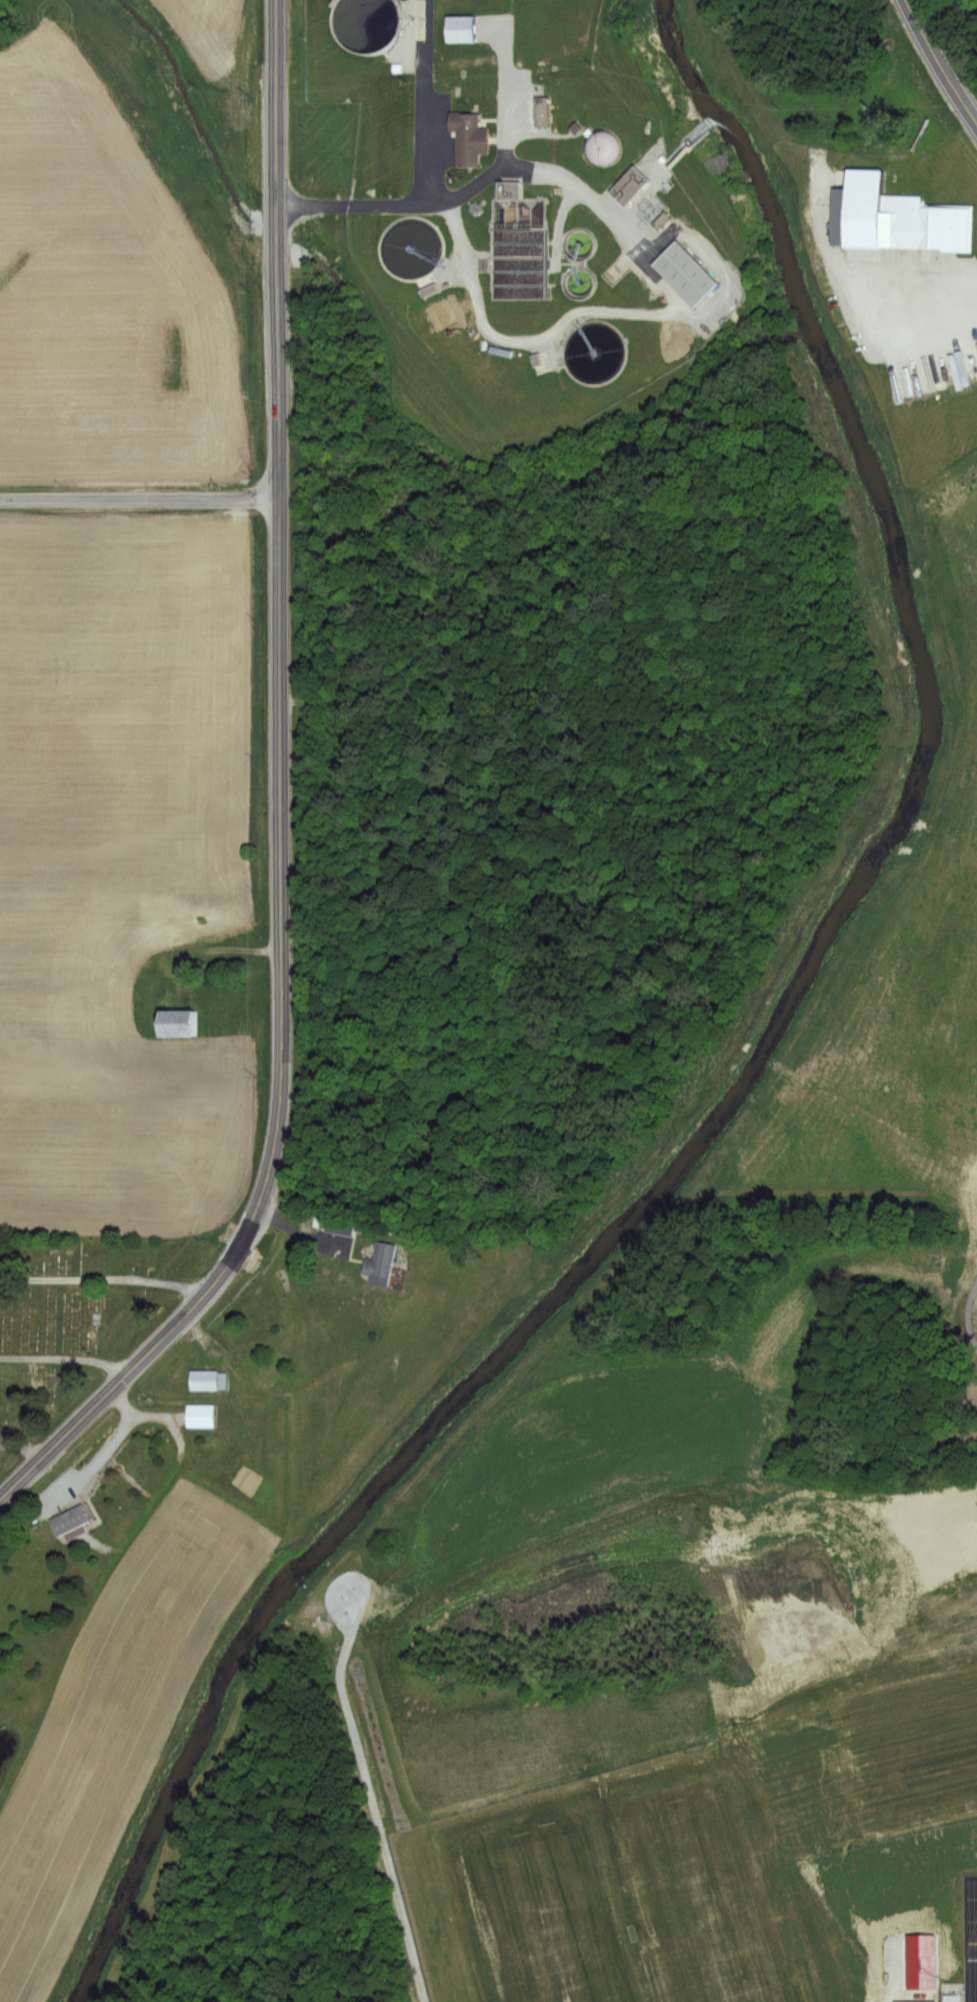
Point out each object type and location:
building: (361, 25)
building: (456, 29)
road: (937, 67)
road: (429, 101)
building: (467, 137)
road: (519, 161)
wastewater plant: (520, 199)
building: (920, 224)
building: (679, 273)
road: (916, 291)
building: (593, 353)
road: (139, 496)
crop: (124, 606)
road: (279, 762)
building: (172, 1023)
river: (744, 1058)
building: (344, 1225)
road: (299, 1232)
building: (382, 1264)
road: (105, 1275)
building: (252, 1302)
road: (966, 1316)
park: (75, 1319)
road: (66, 1351)
building: (210, 1378)
road: (121, 1400)
building: (201, 1414)
road: (112, 1437)
road: (26, 1443)
road: (26, 1468)
building: (72, 1519)
park: (920, 1761)
road: (300, 1854)
road: (384, 1858)
park: (727, 1887)
park: (523, 1910)
track: (971, 1939)
road: (963, 1985)

